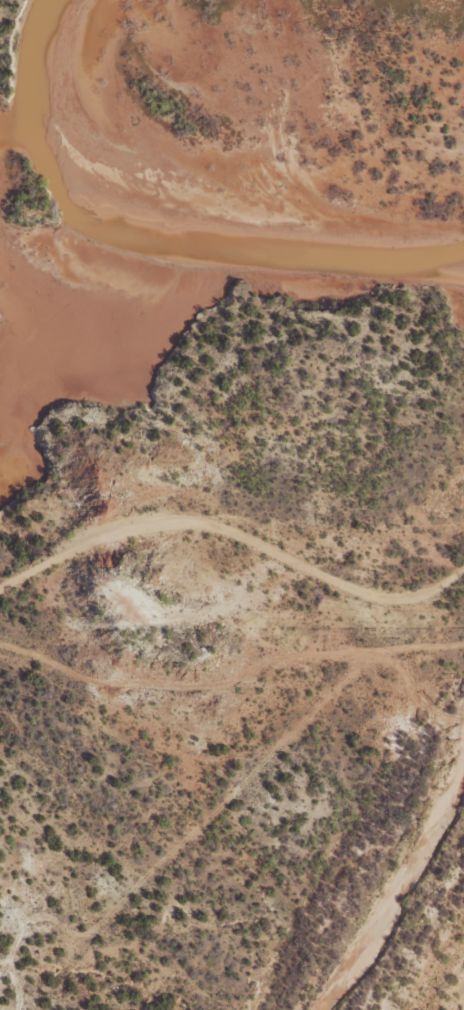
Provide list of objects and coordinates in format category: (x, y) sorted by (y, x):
road: (228, 625)

